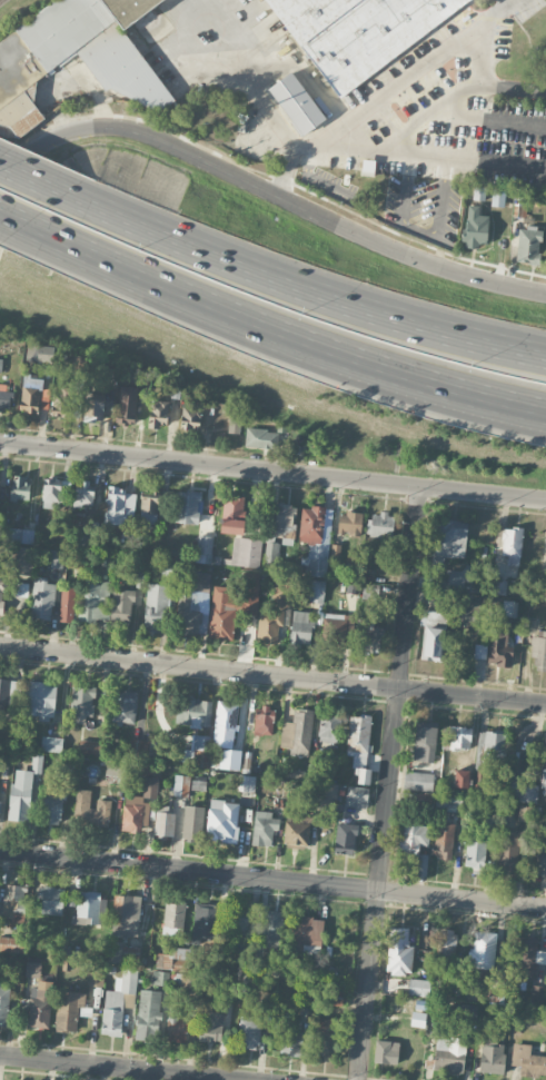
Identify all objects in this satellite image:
railway: (0, 0)
building: (358, 31)
building: (120, 69)
road: (408, 79)
road: (249, 80)
road: (513, 87)
building: (296, 102)
road: (492, 118)
road: (427, 119)
road: (463, 164)
road: (282, 178)
road: (33, 179)
road: (269, 191)
building: (497, 198)
road: (8, 217)
building: (475, 227)
building: (528, 245)
road: (302, 285)
road: (276, 331)
building: (79, 363)
building: (30, 394)
building: (4, 398)
building: (60, 402)
building: (127, 404)
building: (93, 410)
building: (190, 413)
building: (159, 414)
building: (235, 420)
building: (261, 438)
road: (272, 470)
building: (19, 487)
building: (56, 492)
building: (83, 494)
building: (118, 506)
building: (187, 506)
building: (148, 512)
building: (232, 514)
building: (285, 523)
building: (349, 523)
building: (380, 525)
building: (24, 535)
building: (316, 538)
building: (512, 545)
building: (203, 548)
building: (246, 552)
building: (447, 554)
building: (58, 558)
building: (23, 561)
building: (18, 588)
building: (314, 591)
building: (370, 591)
building: (2, 592)
building: (249, 593)
building: (41, 598)
building: (67, 604)
building: (121, 605)
building: (195, 605)
building: (156, 607)
building: (275, 611)
building: (468, 613)
building: (300, 628)
building: (337, 631)
building: (368, 635)
building: (433, 636)
building: (499, 647)
building: (539, 651)
road: (272, 675)
building: (9, 692)
building: (40, 701)
building: (82, 701)
building: (123, 706)
building: (193, 713)
building: (264, 721)
building: (225, 724)
building: (328, 729)
building: (297, 733)
building: (459, 737)
building: (425, 743)
building: (51, 744)
building: (359, 746)
building: (87, 747)
building: (138, 747)
building: (200, 751)
building: (544, 752)
building: (185, 755)
building: (487, 755)
building: (229, 759)
building: (37, 763)
building: (115, 769)
building: (461, 779)
building: (418, 781)
building: (198, 783)
building: (246, 783)
road: (390, 783)
building: (181, 785)
building: (150, 786)
building: (327, 791)
building: (523, 791)
building: (20, 794)
building: (357, 796)
building: (53, 805)
building: (0, 806)
building: (90, 810)
building: (133, 814)
building: (163, 820)
building: (222, 821)
building: (192, 823)
building: (265, 828)
building: (297, 832)
building: (345, 839)
building: (444, 839)
building: (414, 844)
building: (477, 855)
building: (507, 855)
building: (537, 856)
road: (272, 880)
building: (51, 900)
building: (13, 902)
building: (91, 905)
building: (126, 915)
building: (173, 919)
building: (206, 922)
building: (272, 928)
building: (306, 933)
building: (446, 941)
building: (12, 944)
building: (483, 950)
building: (122, 952)
building: (399, 952)
building: (181, 958)
building: (527, 958)
building: (32, 969)
building: (96, 977)
building: (418, 987)
building: (118, 1001)
building: (4, 1002)
building: (40, 1003)
building: (68, 1010)
building: (148, 1014)
building: (176, 1025)
building: (210, 1025)
building: (248, 1032)
building: (290, 1036)
building: (324, 1037)
building: (386, 1051)
building: (492, 1053)
building: (449, 1054)
building: (528, 1060)
road: (110, 1068)

